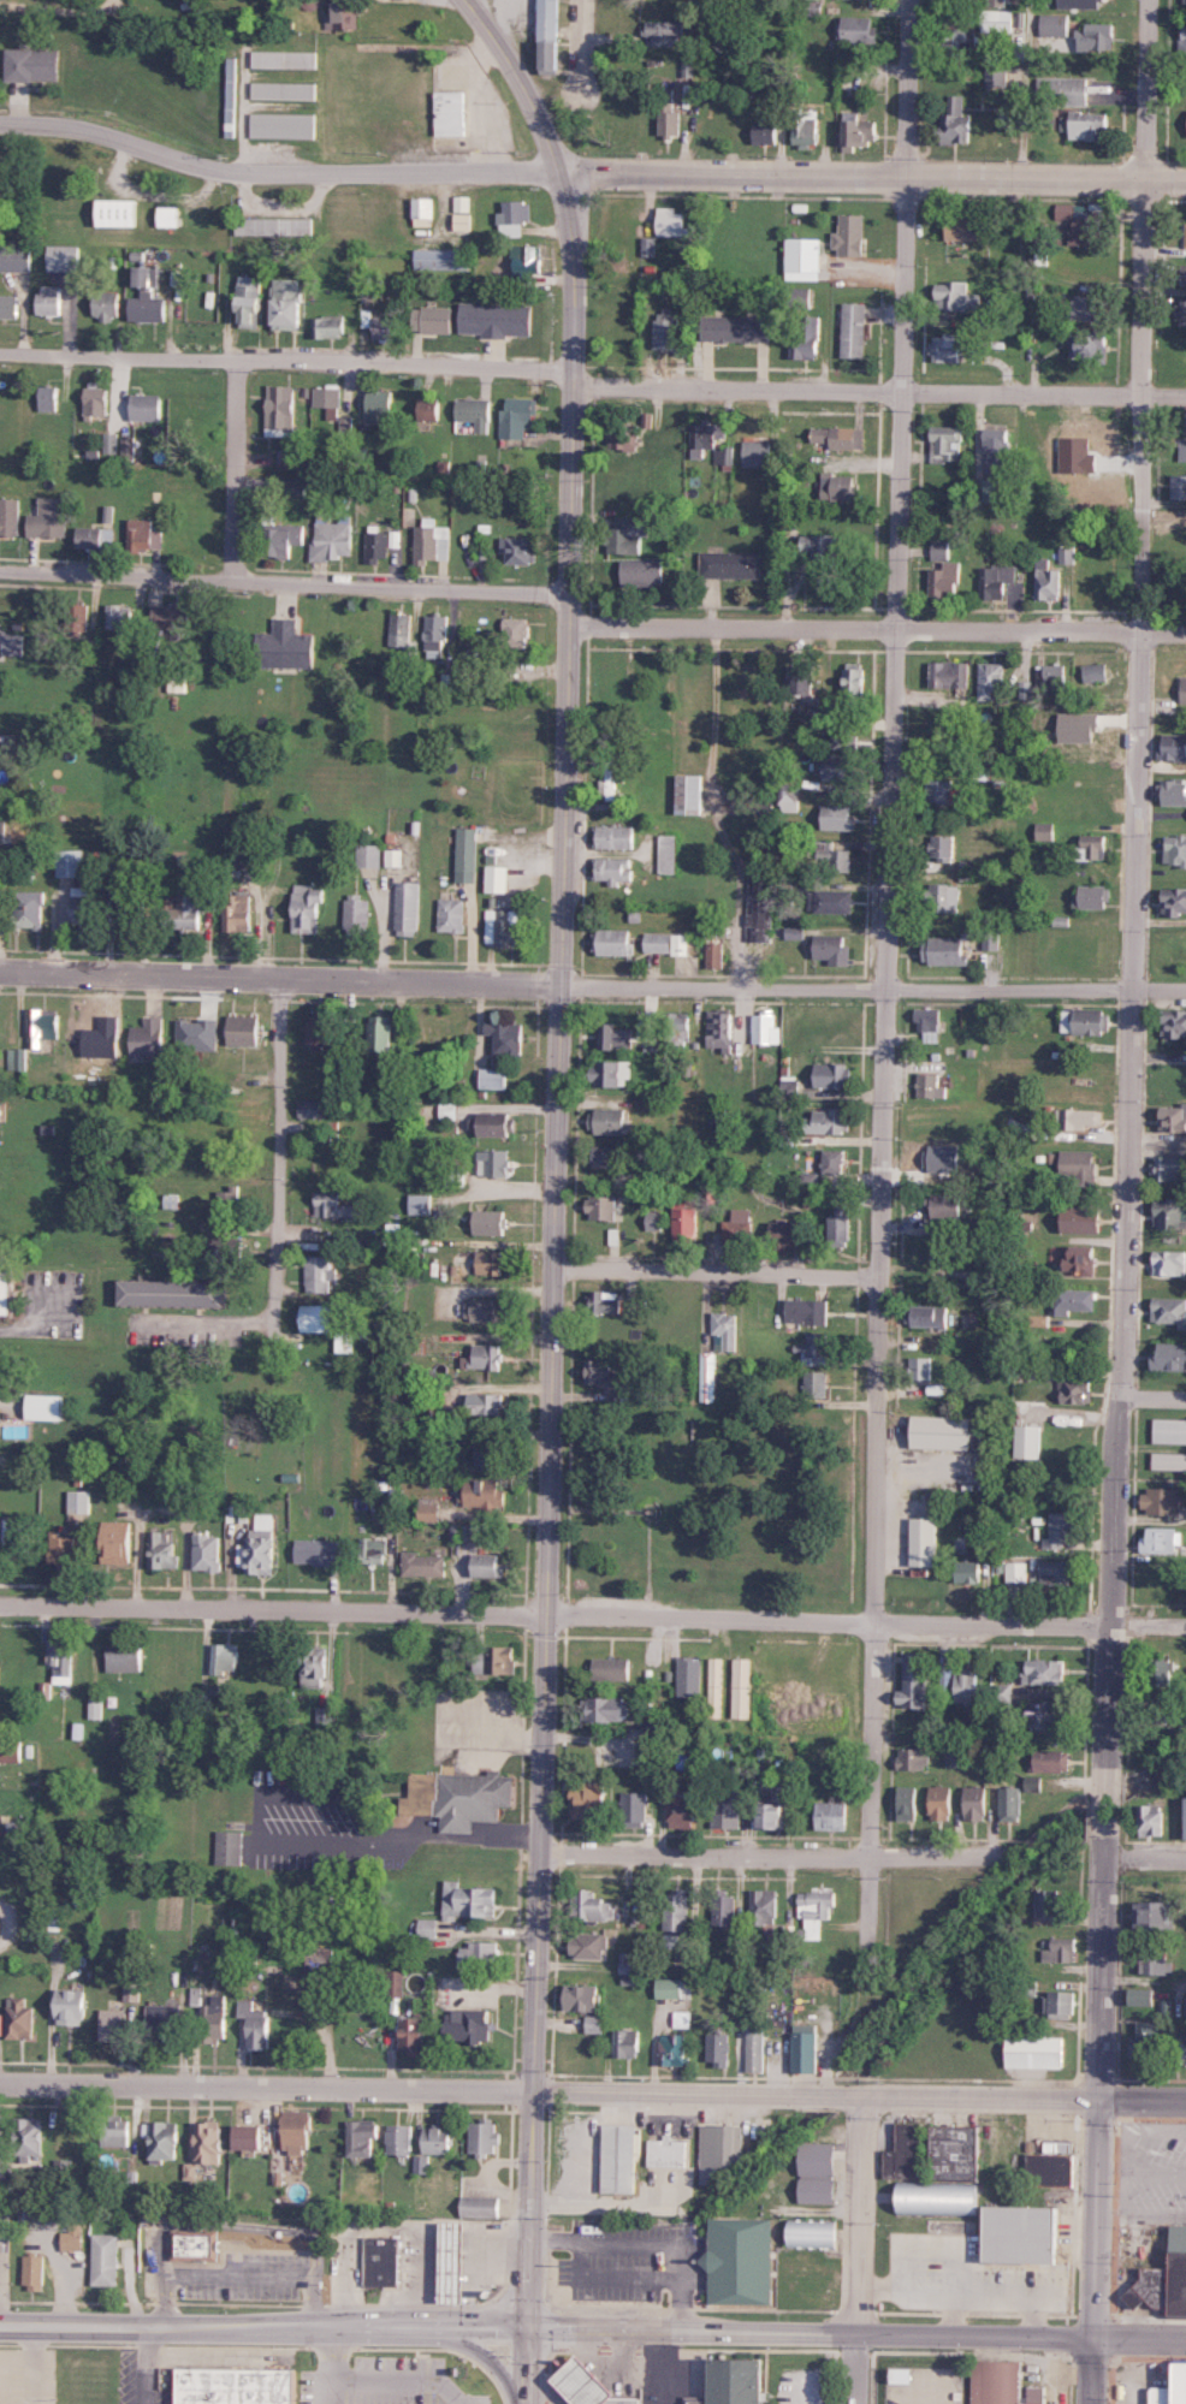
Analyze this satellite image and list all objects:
building: (1004, 0)
building: (1184, 1)
building: (1084, 4)
road: (54, 8)
building: (344, 16)
building: (1000, 20)
building: (1056, 24)
building: (858, 28)
building: (665, 32)
building: (550, 36)
building: (1097, 37)
building: (1182, 38)
building: (962, 40)
road: (579, 42)
road: (493, 44)
building: (285, 59)
building: (35, 64)
building: (997, 75)
building: (284, 90)
building: (1065, 90)
building: (232, 91)
building: (451, 113)
building: (670, 118)
building: (957, 121)
building: (284, 125)
building: (1091, 126)
road: (544, 130)
building: (766, 131)
building: (808, 131)
building: (862, 133)
road: (588, 171)
building: (462, 203)
building: (119, 212)
building: (425, 212)
building: (170, 215)
building: (514, 216)
building: (462, 221)
building: (674, 222)
building: (275, 226)
building: (971, 228)
building: (1087, 231)
building: (850, 235)
building: (650, 247)
building: (14, 257)
building: (64, 257)
building: (443, 259)
building: (805, 259)
building: (528, 262)
building: (147, 274)
building: (1185, 277)
building: (957, 296)
building: (47, 299)
building: (250, 299)
building: (289, 303)
building: (105, 304)
building: (8, 305)
building: (147, 307)
building: (1087, 307)
building: (1184, 313)
building: (435, 319)
building: (498, 319)
building: (383, 325)
building: (330, 326)
building: (737, 327)
building: (669, 330)
building: (854, 330)
building: (806, 338)
building: (1093, 345)
building: (947, 348)
road: (285, 358)
road: (878, 391)
building: (48, 397)
building: (96, 400)
building: (328, 400)
building: (378, 403)
building: (431, 405)
building: (147, 406)
building: (280, 409)
building: (476, 412)
building: (518, 416)
building: (624, 434)
building: (838, 435)
building: (706, 437)
building: (109, 443)
building: (945, 443)
building: (128, 446)
building: (1182, 449)
building: (758, 452)
building: (723, 455)
building: (1078, 455)
building: (292, 458)
building: (992, 462)
road: (231, 468)
building: (840, 486)
building: (1179, 486)
building: (10, 515)
building: (48, 517)
building: (143, 533)
building: (627, 535)
building: (93, 536)
building: (284, 536)
building: (331, 539)
building: (431, 541)
building: (380, 544)
building: (481, 546)
building: (517, 548)
building: (818, 548)
building: (941, 550)
building: (1068, 554)
building: (731, 564)
building: (642, 571)
building: (947, 578)
building: (1050, 580)
road: (284, 582)
building: (1001, 582)
building: (174, 615)
building: (118, 616)
building: (81, 618)
building: (0, 622)
road: (877, 625)
building: (397, 629)
building: (515, 629)
building: (434, 631)
building: (135, 642)
building: (14, 643)
building: (286, 646)
building: (1097, 671)
building: (951, 673)
building: (800, 678)
building: (1054, 678)
building: (992, 679)
building: (854, 681)
building: (1025, 689)
building: (1185, 691)
road: (713, 705)
building: (1080, 726)
building: (1174, 746)
building: (841, 767)
building: (609, 780)
building: (939, 790)
building: (1173, 791)
building: (690, 793)
building: (788, 797)
building: (840, 817)
building: (4, 831)
building: (1045, 831)
building: (615, 836)
building: (1097, 847)
building: (942, 848)
building: (1175, 849)
building: (467, 854)
building: (668, 854)
building: (369, 855)
building: (834, 855)
building: (395, 857)
building: (70, 862)
building: (615, 869)
building: (23, 871)
building: (497, 878)
road: (563, 891)
building: (945, 896)
building: (1093, 896)
building: (834, 901)
building: (1174, 901)
building: (759, 904)
building: (83, 906)
building: (126, 906)
building: (308, 908)
building: (408, 908)
building: (30, 909)
building: (192, 909)
building: (238, 913)
building: (357, 914)
building: (451, 914)
road: (1158, 920)
building: (503, 926)
building: (794, 932)
building: (991, 940)
building: (615, 942)
building: (668, 943)
building: (834, 949)
building: (947, 950)
building: (714, 955)
road: (883, 983)
road: (592, 987)
building: (1085, 1021)
building: (929, 1023)
building: (1175, 1023)
building: (43, 1026)
building: (767, 1028)
building: (245, 1029)
building: (722, 1029)
building: (321, 1033)
building: (380, 1033)
building: (198, 1034)
building: (508, 1037)
building: (617, 1037)
building: (148, 1039)
building: (17, 1058)
building: (611, 1073)
building: (831, 1075)
building: (494, 1078)
building: (931, 1086)
building: (312, 1108)
building: (0, 1114)
building: (1084, 1118)
building: (1173, 1118)
building: (611, 1121)
building: (829, 1121)
building: (496, 1124)
building: (610, 1156)
building: (944, 1157)
building: (498, 1162)
building: (832, 1162)
building: (1079, 1167)
building: (1169, 1168)
building: (173, 1200)
road: (1123, 1201)
building: (227, 1203)
building: (421, 1204)
building: (334, 1205)
building: (947, 1206)
building: (603, 1207)
building: (1170, 1213)
building: (654, 1219)
building: (1083, 1219)
building: (492, 1222)
building: (687, 1224)
building: (841, 1225)
building: (737, 1228)
building: (787, 1233)
building: (229, 1246)
building: (1080, 1258)
building: (496, 1263)
building: (1169, 1263)
road: (714, 1269)
building: (320, 1275)
road: (274, 1289)
building: (10, 1292)
building: (177, 1293)
building: (1077, 1300)
building: (607, 1301)
building: (485, 1310)
building: (808, 1311)
building: (1169, 1311)
building: (932, 1316)
building: (319, 1318)
building: (727, 1331)
building: (345, 1341)
building: (816, 1349)
building: (485, 1357)
building: (1170, 1357)
building: (924, 1369)
building: (603, 1372)
building: (708, 1376)
building: (818, 1383)
building: (1075, 1389)
building: (633, 1393)
road: (1151, 1393)
building: (487, 1403)
building: (46, 1407)
building: (1169, 1431)
road: (568, 1435)
building: (935, 1435)
building: (1020, 1443)
building: (488, 1454)
building: (1169, 1461)
building: (482, 1492)
building: (79, 1501)
building: (1164, 1501)
park: (708, 1502)
road: (646, 1509)
building: (429, 1513)
building: (1060, 1529)
building: (461, 1532)
building: (17, 1537)
building: (1163, 1541)
building: (119, 1542)
building: (960, 1543)
building: (917, 1544)
building: (261, 1545)
building: (61, 1549)
building: (162, 1550)
building: (373, 1550)
building: (319, 1551)
building: (207, 1553)
building: (425, 1563)
building: (488, 1565)
building: (969, 1572)
building: (1015, 1572)
building: (1056, 1573)
road: (592, 1615)
building: (225, 1657)
building: (125, 1658)
road: (561, 1658)
building: (61, 1660)
building: (494, 1661)
building: (314, 1669)
building: (611, 1669)
building: (1160, 1670)
building: (1045, 1672)
building: (689, 1676)
building: (947, 1678)
building: (714, 1687)
building: (741, 1688)
building: (969, 1688)
building: (1001, 1694)
building: (95, 1708)
building: (605, 1709)
building: (1044, 1715)
building: (324, 1717)
building: (12, 1752)
building: (646, 1755)
building: (956, 1758)
building: (913, 1759)
building: (1050, 1761)
building: (1032, 1782)
building: (462, 1798)
building: (587, 1801)
building: (908, 1803)
building: (942, 1803)
building: (976, 1803)
building: (633, 1804)
building: (1009, 1804)
building: (773, 1809)
building: (680, 1811)
building: (724, 1815)
building: (834, 1816)
building: (1152, 1821)
road: (302, 1844)
building: (229, 1847)
road: (770, 1852)
road: (1144, 1853)
building: (470, 1899)
building: (1046, 1903)
building: (592, 1907)
building: (765, 1907)
building: (724, 1910)
building: (816, 1912)
building: (1156, 1916)
building: (676, 1918)
building: (0, 1924)
building: (428, 1928)
building: (280, 1931)
building: (589, 1945)
building: (1060, 1951)
building: (478, 1954)
building: (319, 1960)
building: (1158, 1961)
road: (535, 1967)
building: (628, 1967)
building: (669, 1987)
building: (132, 1989)
building: (196, 1995)
building: (582, 1996)
building: (1141, 1996)
building: (1061, 2005)
building: (72, 2006)
building: (162, 2017)
building: (215, 2017)
building: (19, 2019)
building: (254, 2023)
building: (114, 2024)
building: (594, 2024)
building: (468, 2025)
building: (415, 2035)
building: (1145, 2041)
building: (625, 2042)
building: (754, 2047)
building: (718, 2048)
building: (669, 2049)
building: (805, 2050)
building: (1037, 2052)
building: (1185, 2054)
road: (592, 2089)
building: (115, 2135)
building: (298, 2135)
building: (251, 2136)
building: (363, 2136)
building: (29, 2137)
building: (484, 2137)
building: (399, 2138)
building: (438, 2139)
building: (162, 2141)
building: (210, 2142)
building: (668, 2151)
building: (721, 2153)
building: (905, 2153)
building: (954, 2153)
building: (609, 2160)
building: (420, 2163)
parking lot: (1151, 2163)
building: (1052, 2165)
building: (60, 2168)
building: (189, 2171)
building: (820, 2172)
building: (929, 2194)
building: (481, 2207)
road: (384, 2226)
building: (805, 2230)
building: (1012, 2237)
building: (72, 2238)
building: (5, 2239)
building: (196, 2244)
road: (642, 2244)
road: (856, 2248)
building: (106, 2258)
building: (383, 2261)
building: (743, 2261)
building: (456, 2262)
building: (444, 2266)
building: (34, 2271)
road: (613, 2275)
road: (233, 2277)
building: (1166, 2281)
road: (265, 2326)
road: (858, 2328)
road: (144, 2335)
road: (1119, 2349)
road: (330, 2351)
road: (31, 2356)
road: (529, 2363)
road: (142, 2375)
parking lot: (137, 2376)
road: (396, 2378)
road: (32, 2380)
parking lot: (25, 2381)
building: (988, 2382)
building: (728, 2384)
building: (1184, 2384)
building: (238, 2386)
building: (575, 2387)
road: (327, 2390)
building: (1163, 2394)

